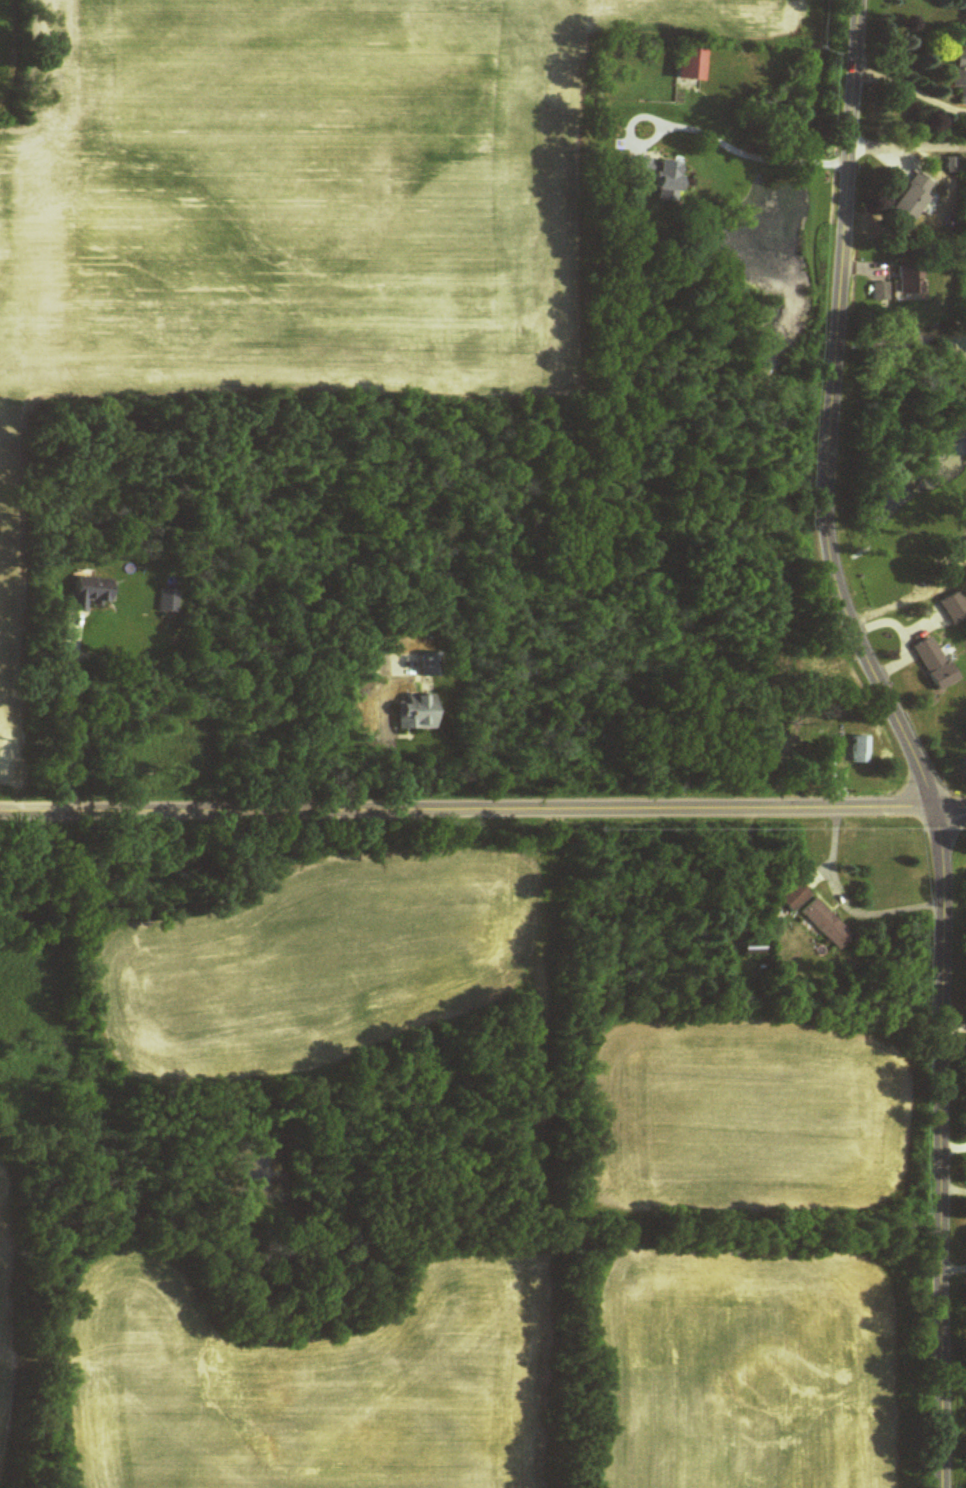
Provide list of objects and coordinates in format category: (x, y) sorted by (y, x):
building: (689, 67)
building: (959, 72)
road: (912, 90)
road: (909, 150)
road: (753, 151)
building: (657, 176)
building: (913, 201)
building: (910, 280)
building: (880, 292)
building: (89, 593)
building: (169, 601)
building: (431, 665)
building: (934, 665)
road: (65, 714)
building: (418, 714)
road: (388, 731)
road: (904, 738)
building: (860, 750)
road: (951, 806)
road: (467, 807)
building: (793, 897)
road: (844, 901)
building: (826, 925)
building: (752, 949)
road: (953, 1024)
road: (953, 1146)

